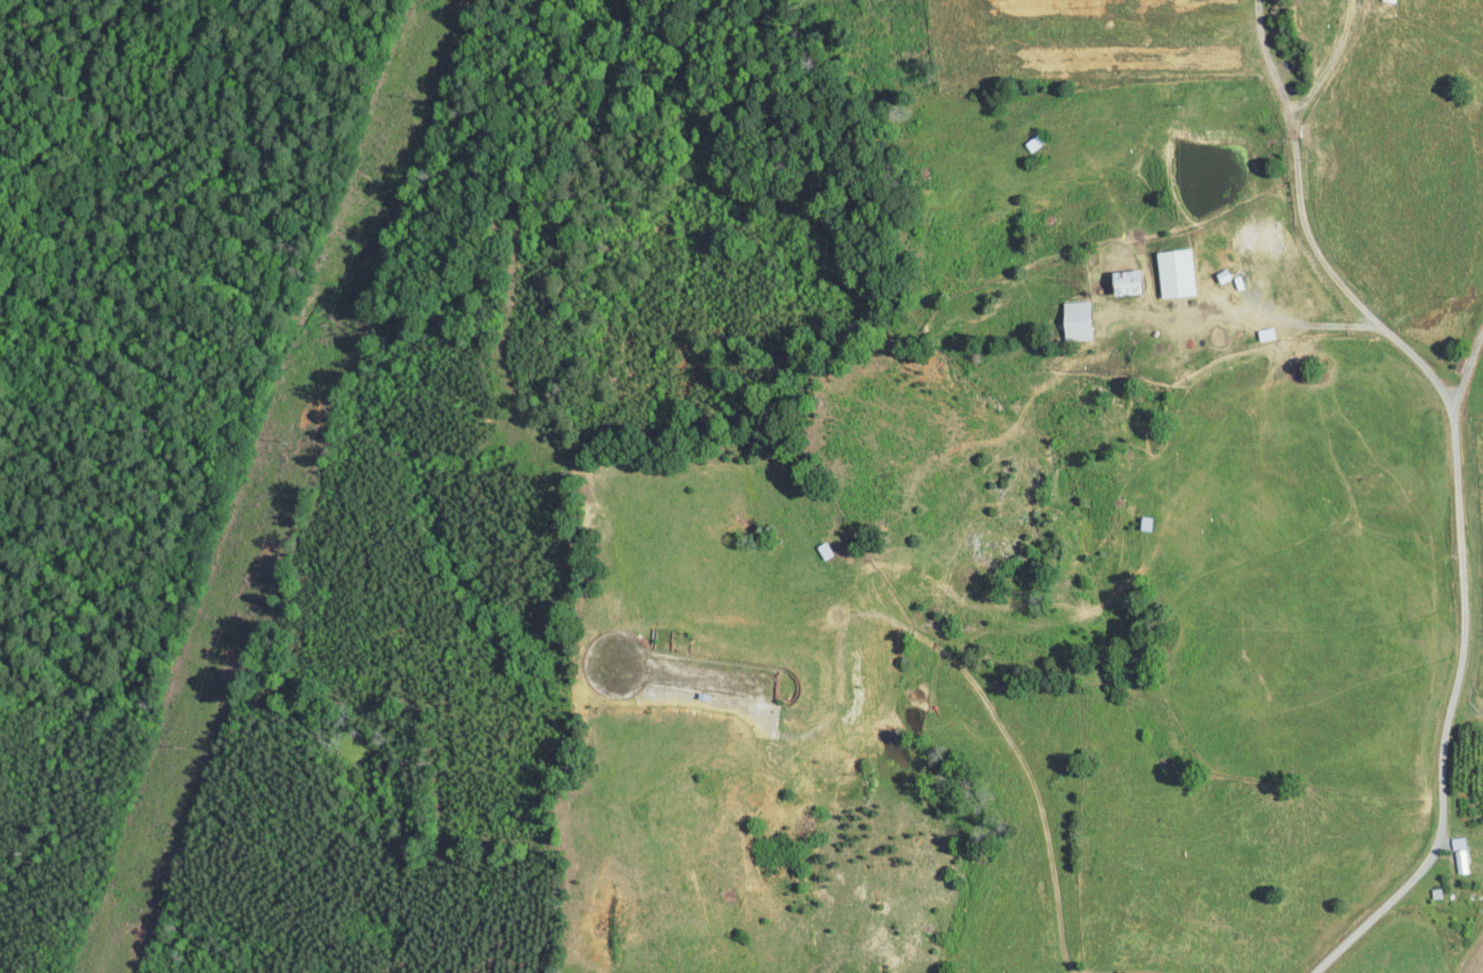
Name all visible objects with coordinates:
power tower: (411, 93)
road: (1294, 174)
building: (1173, 272)
building: (1122, 281)
building: (1073, 319)
road: (1313, 323)
road: (1416, 364)
road: (1470, 368)
power tower: (290, 438)
road: (1450, 714)
power tower: (184, 742)
building: (1459, 854)

